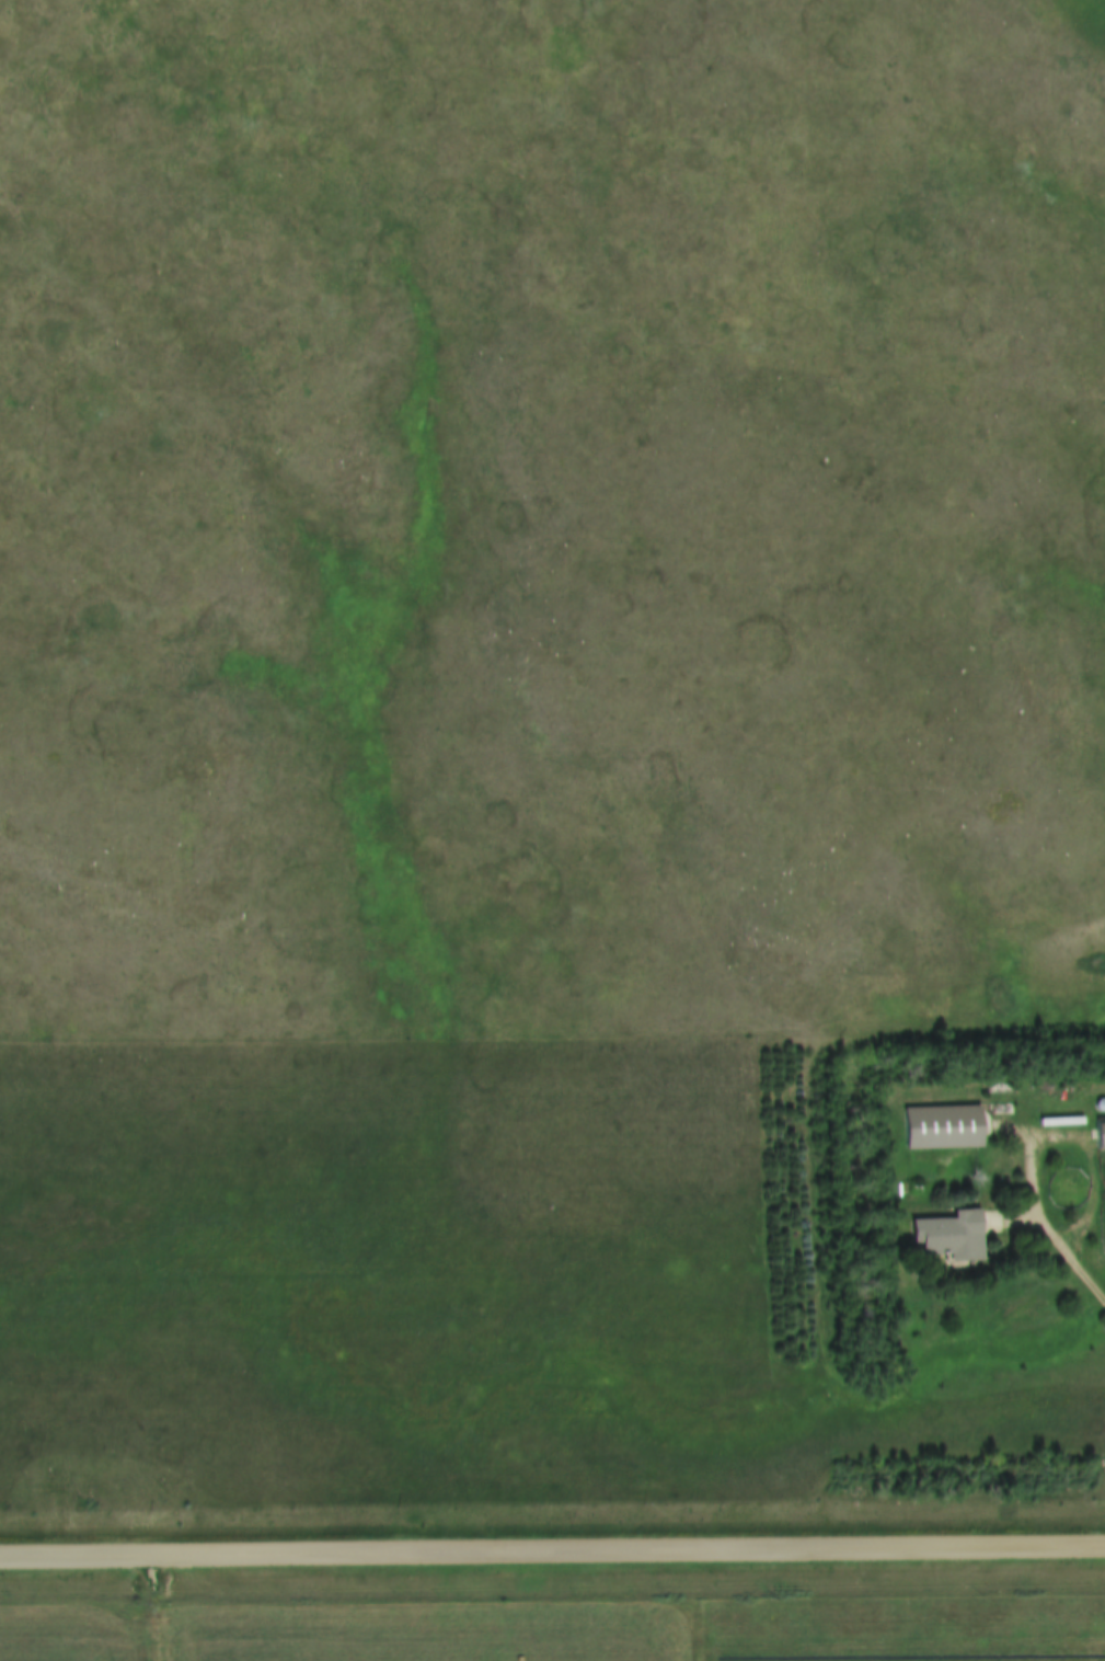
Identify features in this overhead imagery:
building: (941, 1129)
building: (1098, 1134)
road: (1060, 1138)
building: (953, 1235)
road: (1086, 1282)
road: (552, 1555)
road: (148, 1610)

